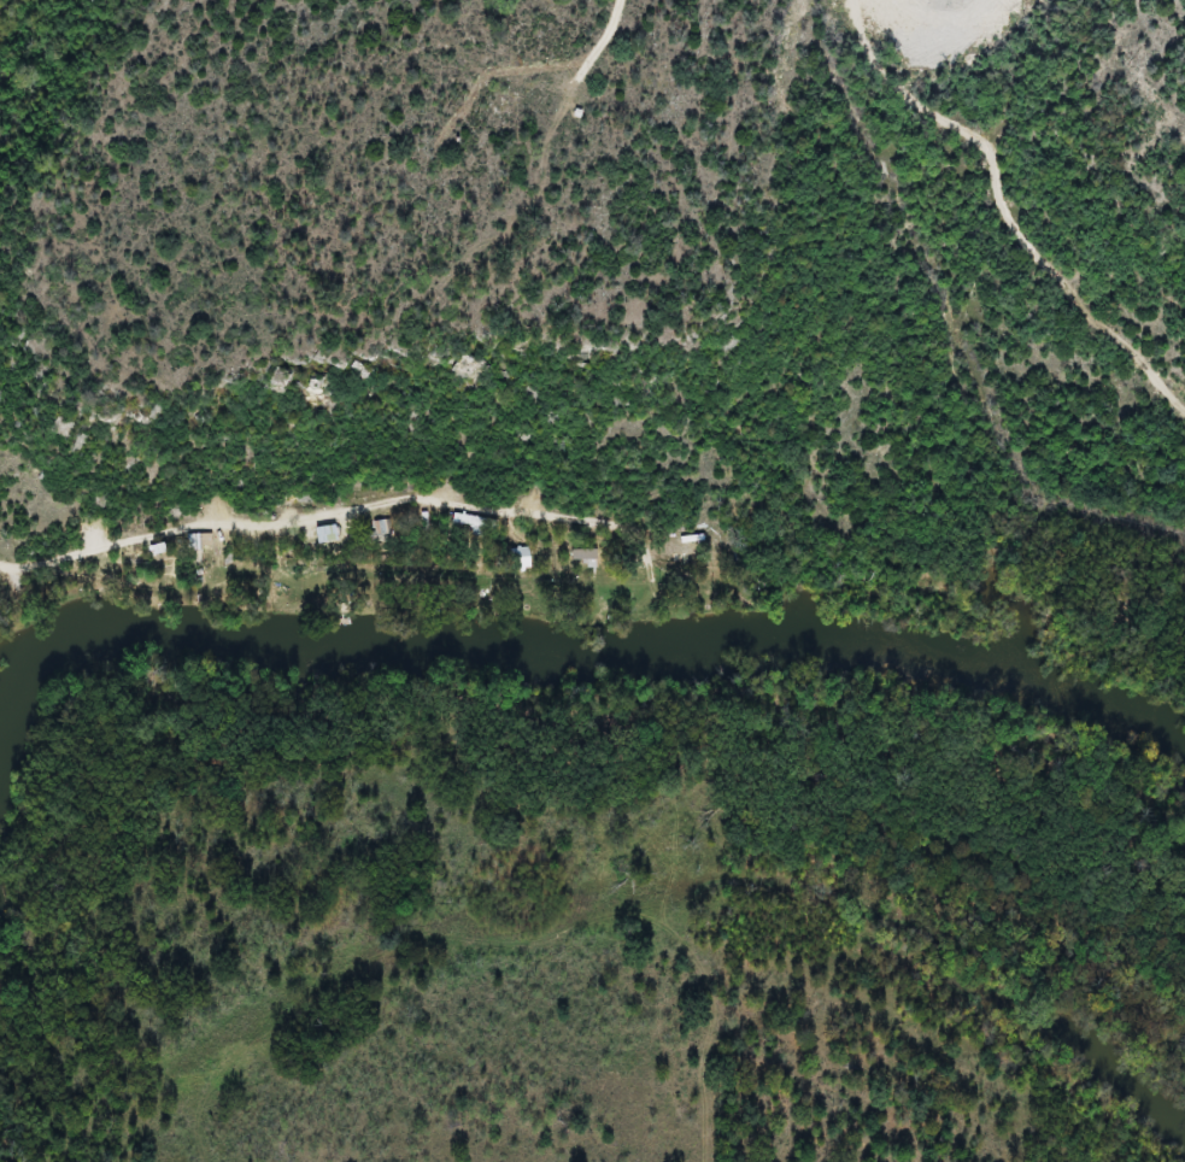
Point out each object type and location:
road: (1025, 211)
road: (342, 517)
building: (386, 530)
building: (335, 535)
building: (523, 558)
river: (562, 649)

